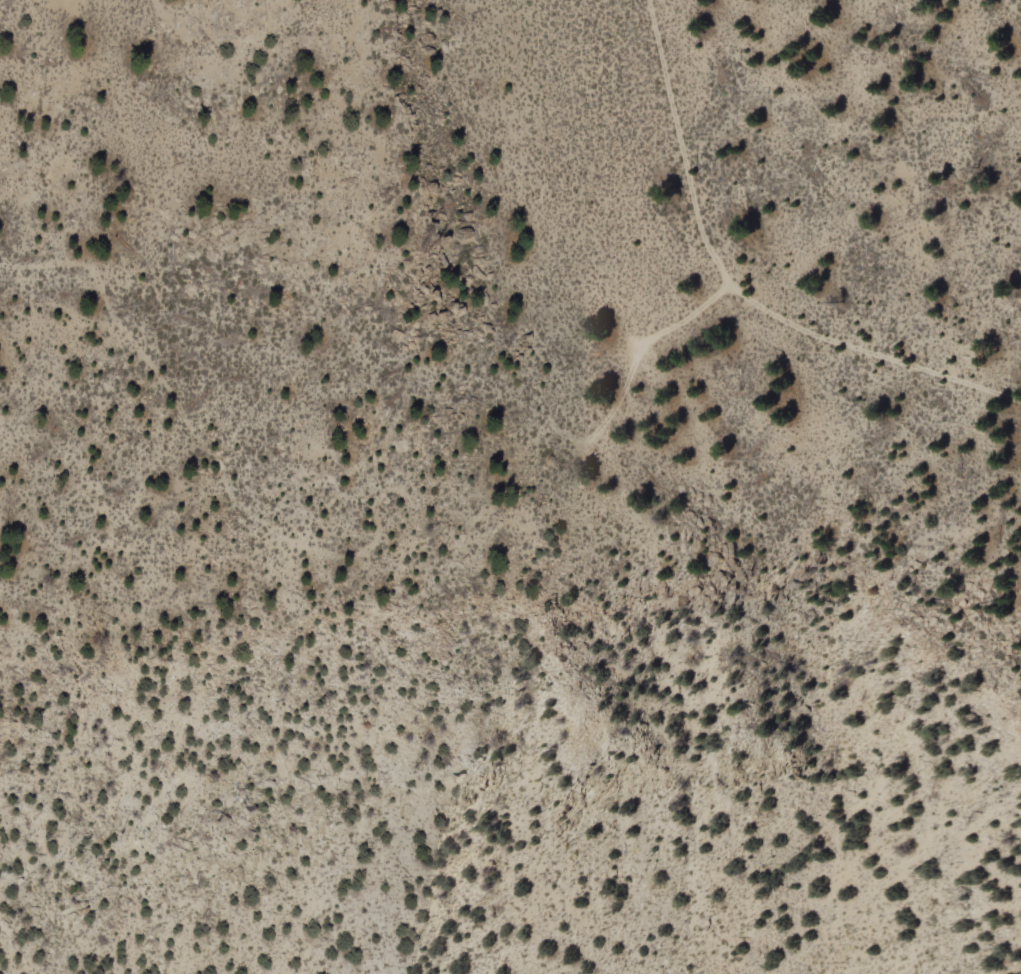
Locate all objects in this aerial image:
road: (740, 289)

